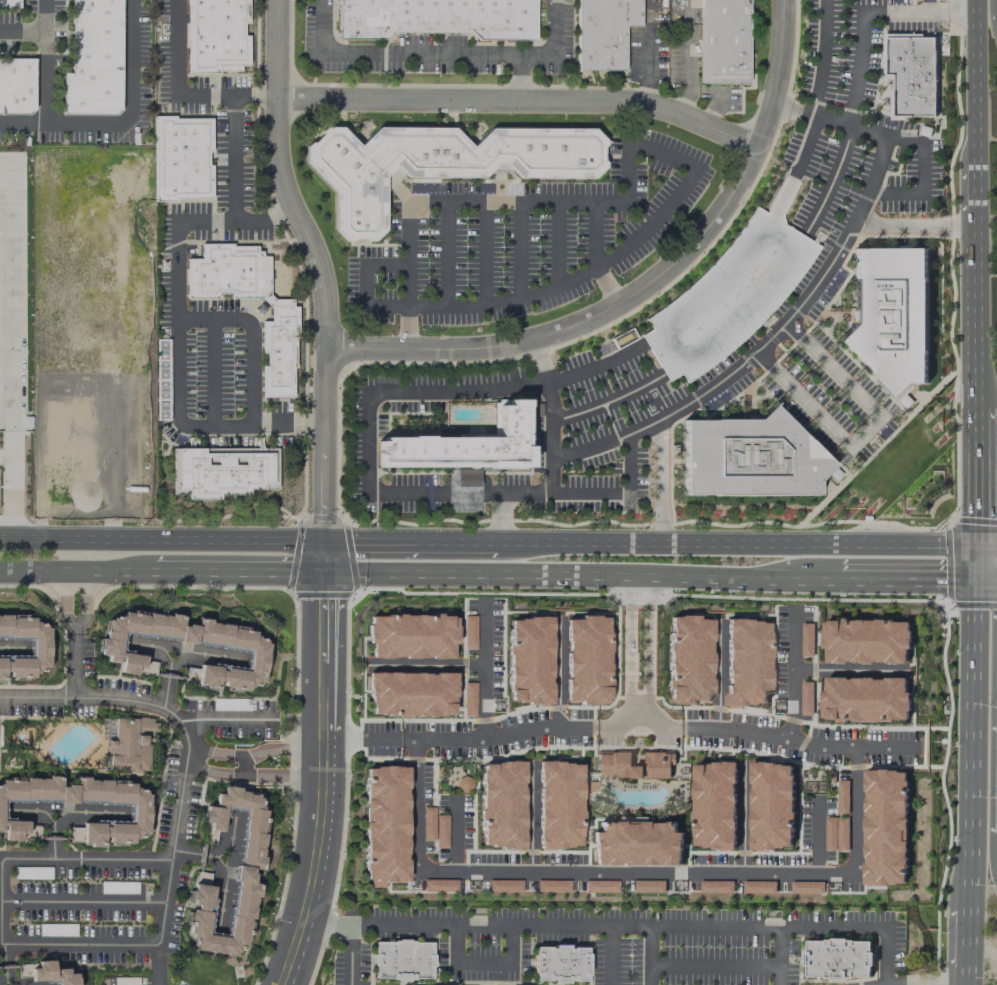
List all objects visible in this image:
building: (9, 4)
road: (931, 6)
road: (931, 12)
building: (437, 17)
road: (38, 29)
building: (602, 32)
building: (216, 35)
building: (722, 41)
road: (554, 45)
road: (416, 54)
road: (686, 56)
road: (822, 56)
building: (94, 59)
building: (914, 76)
road: (45, 77)
road: (975, 84)
building: (16, 85)
road: (178, 96)
road: (521, 101)
road: (811, 112)
road: (128, 125)
road: (805, 145)
road: (666, 155)
building: (181, 157)
road: (233, 158)
building: (437, 162)
road: (920, 178)
road: (830, 180)
road: (973, 196)
road: (914, 226)
road: (848, 232)
road: (973, 233)
road: (595, 255)
road: (320, 280)
road: (646, 288)
building: (730, 291)
parking garage: (730, 291)
road: (974, 294)
road: (833, 295)
building: (282, 314)
road: (833, 314)
building: (892, 316)
road: (177, 336)
road: (251, 337)
road: (7, 355)
road: (539, 361)
road: (595, 367)
road: (212, 372)
road: (977, 377)
road: (77, 382)
road: (459, 391)
road: (746, 400)
road: (608, 401)
road: (725, 401)
road: (863, 429)
building: (68, 446)
building: (464, 446)
road: (876, 448)
building: (750, 456)
building: (222, 471)
road: (618, 490)
road: (979, 491)
road: (946, 516)
road: (499, 517)
road: (162, 540)
road: (462, 543)
traffic signals: (325, 544)
road: (367, 544)
road: (610, 545)
road: (772, 548)
road: (908, 549)
traffic signals: (977, 550)
road: (987, 550)
traffic signals: (324, 569)
road: (367, 569)
road: (462, 569)
road: (239, 571)
road: (609, 571)
road: (77, 573)
road: (772, 573)
road: (907, 574)
traffic signals: (976, 575)
road: (986, 575)
road: (80, 599)
road: (65, 600)
road: (73, 629)
building: (469, 631)
building: (409, 636)
building: (806, 640)
building: (863, 642)
road: (647, 643)
road: (628, 644)
building: (39, 645)
road: (11, 648)
building: (110, 650)
road: (207, 655)
road: (172, 656)
building: (689, 659)
building: (530, 660)
building: (585, 660)
building: (746, 661)
road: (427, 666)
road: (75, 667)
road: (847, 670)
road: (483, 673)
road: (558, 674)
road: (792, 674)
road: (718, 676)
road: (975, 682)
building: (410, 694)
building: (469, 698)
building: (806, 698)
building: (865, 698)
building: (228, 704)
road: (229, 721)
fountain: (637, 743)
building: (129, 744)
road: (212, 755)
road: (189, 759)
building: (634, 763)
road: (280, 765)
road: (326, 778)
building: (842, 796)
building: (501, 805)
building: (558, 805)
building: (713, 805)
building: (771, 806)
building: (138, 810)
road: (30, 812)
road: (64, 813)
road: (742, 819)
road: (853, 819)
building: (385, 824)
building: (434, 827)
building: (884, 827)
building: (835, 834)
road: (816, 838)
building: (635, 844)
road: (973, 849)
road: (222, 858)
building: (247, 870)
building: (31, 872)
building: (439, 885)
building: (503, 885)
building: (552, 886)
building: (600, 886)
building: (648, 886)
building: (716, 886)
building: (758, 887)
building: (806, 887)
road: (3, 894)
road: (221, 895)
road: (85, 901)
road: (622, 926)
road: (969, 946)
road: (348, 954)
road: (608, 955)
road: (650, 955)
building: (838, 959)
building: (402, 960)
building: (560, 964)
road: (4, 965)
building: (45, 972)
building: (126, 981)
road: (950, 983)

